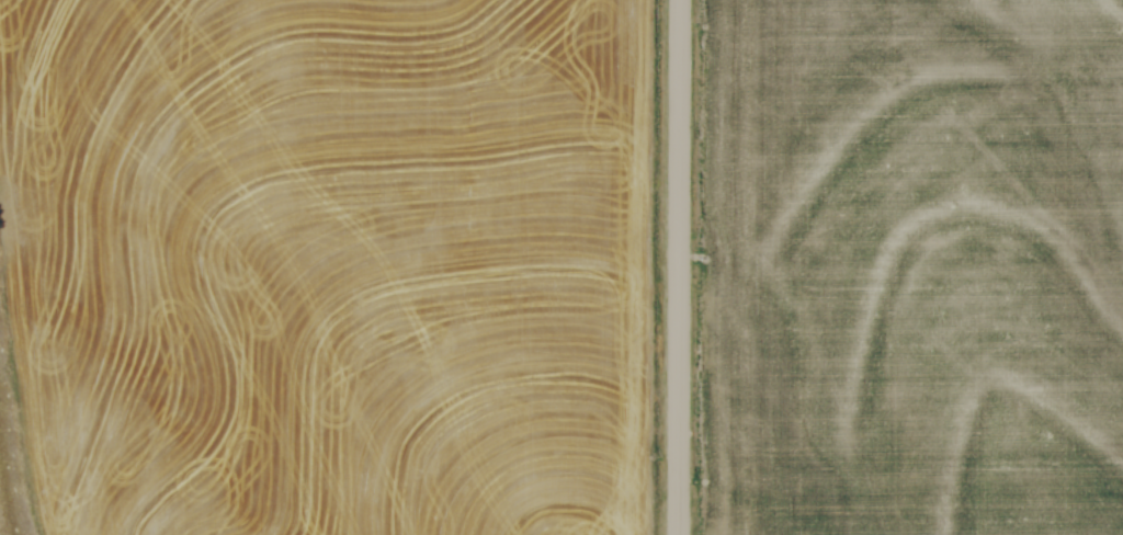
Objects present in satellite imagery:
road: (682, 267)

